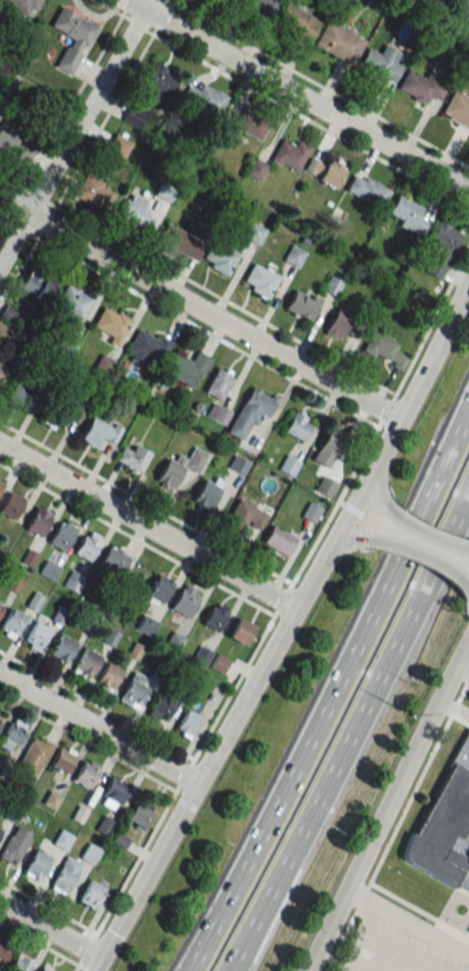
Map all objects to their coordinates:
road: (168, 1)
building: (436, 1)
building: (22, 5)
building: (258, 6)
road: (114, 10)
building: (464, 10)
building: (294, 21)
road: (149, 32)
building: (72, 38)
building: (336, 42)
building: (373, 64)
building: (160, 81)
road: (316, 84)
building: (412, 84)
road: (296, 93)
building: (205, 98)
building: (457, 109)
road: (294, 112)
building: (134, 115)
building: (250, 124)
road: (74, 132)
building: (5, 140)
building: (118, 146)
building: (288, 154)
building: (366, 190)
building: (94, 192)
building: (135, 213)
building: (407, 215)
road: (2, 219)
road: (2, 224)
building: (254, 232)
building: (180, 241)
building: (441, 249)
building: (294, 255)
building: (220, 258)
building: (260, 281)
building: (34, 284)
road: (196, 285)
building: (71, 301)
building: (301, 305)
road: (199, 309)
building: (109, 322)
building: (337, 322)
building: (147, 346)
building: (384, 349)
building: (182, 369)
building: (1, 370)
building: (218, 383)
building: (21, 393)
building: (53, 411)
building: (251, 411)
building: (217, 413)
building: (297, 426)
building: (99, 432)
building: (327, 449)
building: (131, 458)
building: (195, 460)
building: (238, 465)
building: (288, 465)
road: (373, 477)
building: (0, 483)
building: (325, 486)
building: (206, 495)
building: (11, 505)
building: (311, 512)
building: (244, 516)
building: (37, 521)
road: (146, 527)
road: (413, 527)
building: (62, 534)
building: (278, 541)
road: (338, 541)
building: (87, 545)
road: (413, 554)
building: (113, 560)
building: (49, 570)
building: (74, 581)
building: (158, 589)
building: (185, 600)
road: (246, 601)
building: (0, 607)
building: (214, 618)
building: (11, 623)
building: (145, 625)
road: (284, 625)
building: (240, 632)
building: (36, 636)
building: (61, 649)
building: (86, 663)
building: (219, 663)
road: (460, 675)
building: (108, 677)
road: (466, 677)
building: (134, 690)
road: (459, 691)
road: (337, 692)
road: (95, 706)
building: (160, 708)
road: (451, 708)
road: (361, 712)
road: (452, 713)
building: (0, 717)
building: (188, 724)
road: (98, 729)
building: (12, 735)
building: (34, 756)
building: (62, 759)
building: (86, 773)
building: (112, 793)
road: (387, 803)
building: (139, 814)
building: (444, 826)
building: (0, 830)
road: (385, 843)
building: (14, 845)
building: (36, 864)
building: (65, 875)
building: (91, 893)
road: (64, 915)
road: (407, 922)
road: (49, 928)
building: (468, 930)
building: (468, 933)
road: (362, 939)
road: (43, 946)
parking lot: (390, 950)
building: (3, 951)
road: (239, 954)
road: (242, 954)
building: (19, 963)
building: (43, 969)
road: (190, 970)
road: (190, 970)

